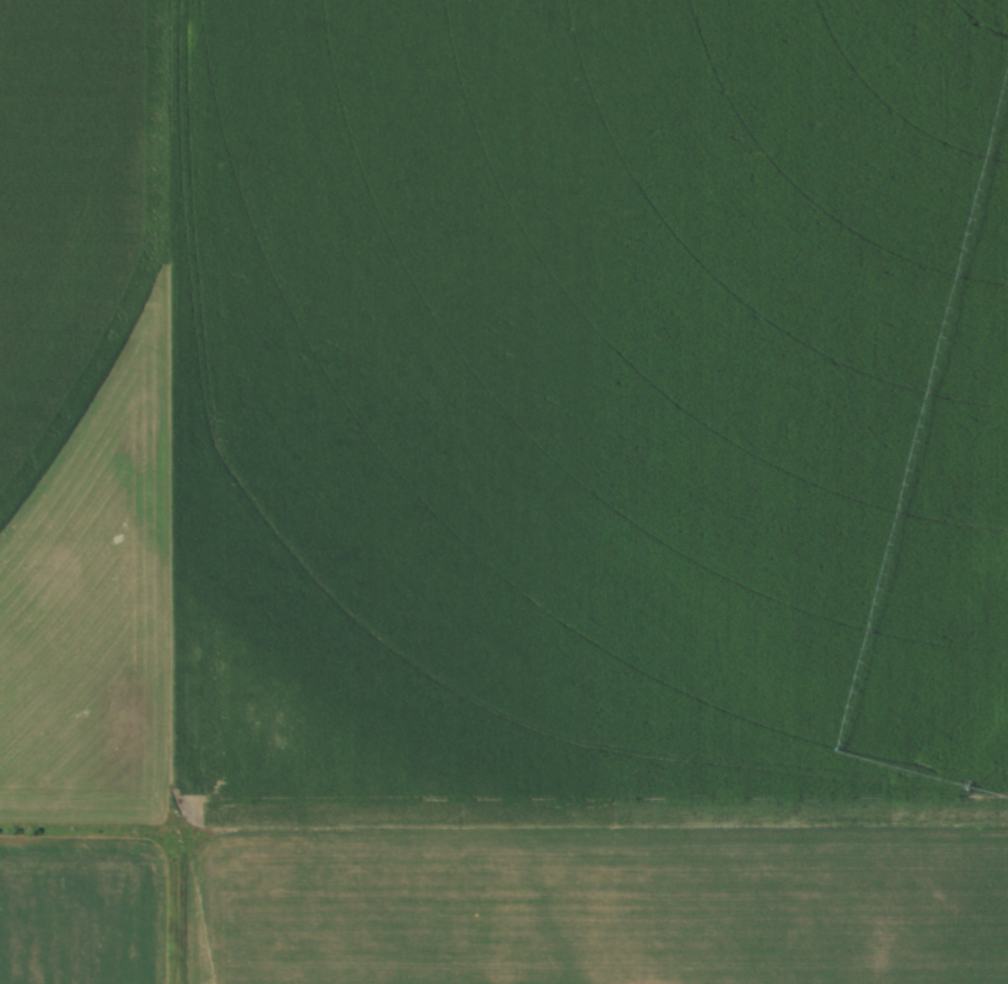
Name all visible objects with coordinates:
crop: (505, 490)

